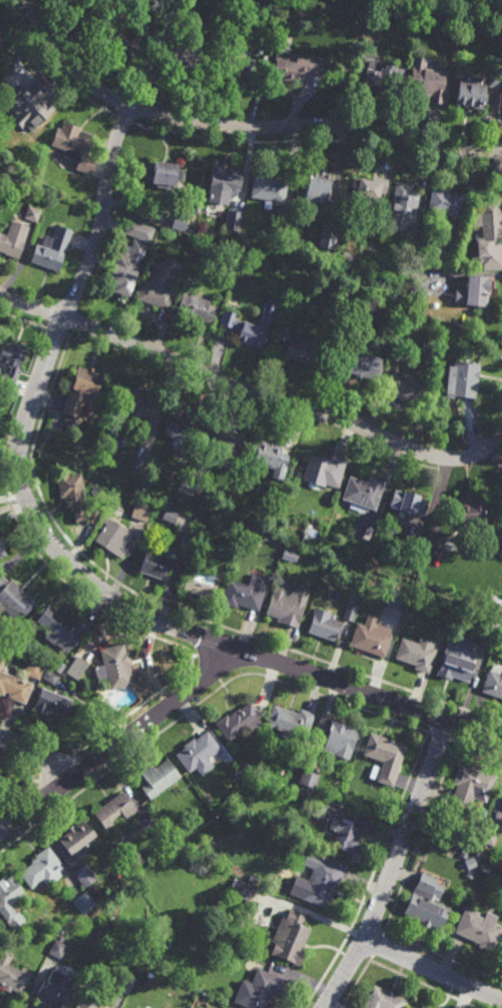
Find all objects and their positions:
park: (436, 11)
building: (1, 35)
building: (124, 36)
building: (367, 49)
building: (184, 60)
road: (69, 64)
building: (245, 65)
building: (295, 67)
building: (466, 72)
building: (385, 79)
building: (496, 81)
building: (428, 84)
building: (32, 94)
building: (472, 94)
road: (317, 126)
building: (75, 146)
building: (163, 175)
building: (223, 184)
building: (268, 187)
building: (319, 187)
building: (371, 189)
building: (1, 201)
building: (447, 205)
building: (198, 207)
building: (404, 207)
building: (32, 214)
building: (285, 221)
building: (180, 222)
building: (233, 222)
building: (491, 227)
building: (139, 232)
building: (113, 236)
building: (330, 236)
building: (13, 240)
building: (52, 250)
building: (412, 250)
building: (444, 258)
building: (127, 268)
building: (421, 287)
building: (158, 288)
building: (476, 294)
building: (196, 310)
building: (244, 332)
building: (295, 347)
building: (397, 354)
building: (406, 357)
building: (11, 361)
building: (363, 363)
building: (463, 377)
building: (407, 387)
building: (81, 389)
road: (251, 391)
building: (140, 405)
building: (185, 427)
road: (21, 436)
building: (226, 442)
building: (271, 456)
building: (139, 464)
building: (199, 469)
building: (324, 469)
building: (177, 491)
building: (363, 492)
building: (72, 493)
building: (501, 493)
building: (409, 501)
building: (500, 507)
building: (141, 511)
building: (469, 512)
building: (170, 515)
building: (198, 522)
building: (114, 538)
building: (2, 551)
building: (156, 564)
building: (202, 580)
building: (244, 592)
building: (13, 599)
building: (397, 601)
building: (495, 603)
building: (285, 610)
building: (350, 612)
building: (324, 625)
building: (62, 629)
building: (488, 629)
building: (499, 630)
building: (371, 637)
building: (416, 653)
building: (458, 661)
building: (1, 664)
building: (59, 667)
building: (117, 667)
building: (76, 668)
building: (34, 669)
building: (50, 677)
building: (493, 684)
building: (14, 688)
road: (377, 697)
building: (51, 703)
building: (237, 722)
building: (290, 722)
building: (342, 735)
road: (124, 738)
building: (198, 754)
road: (37, 755)
building: (384, 758)
building: (237, 774)
building: (158, 778)
building: (308, 778)
building: (471, 787)
building: (501, 808)
building: (315, 809)
building: (114, 810)
building: (345, 837)
building: (76, 838)
building: (489, 838)
building: (134, 859)
road: (393, 867)
building: (40, 868)
building: (486, 869)
building: (84, 876)
building: (321, 880)
building: (242, 889)
building: (10, 901)
building: (83, 902)
building: (427, 904)
building: (480, 929)
building: (290, 939)
building: (58, 946)
building: (501, 952)
road: (434, 969)
road: (399, 972)
building: (12, 976)
building: (126, 984)
building: (264, 989)
building: (57, 991)
building: (384, 1000)
building: (88, 1001)
building: (205, 1006)
building: (133, 1007)

